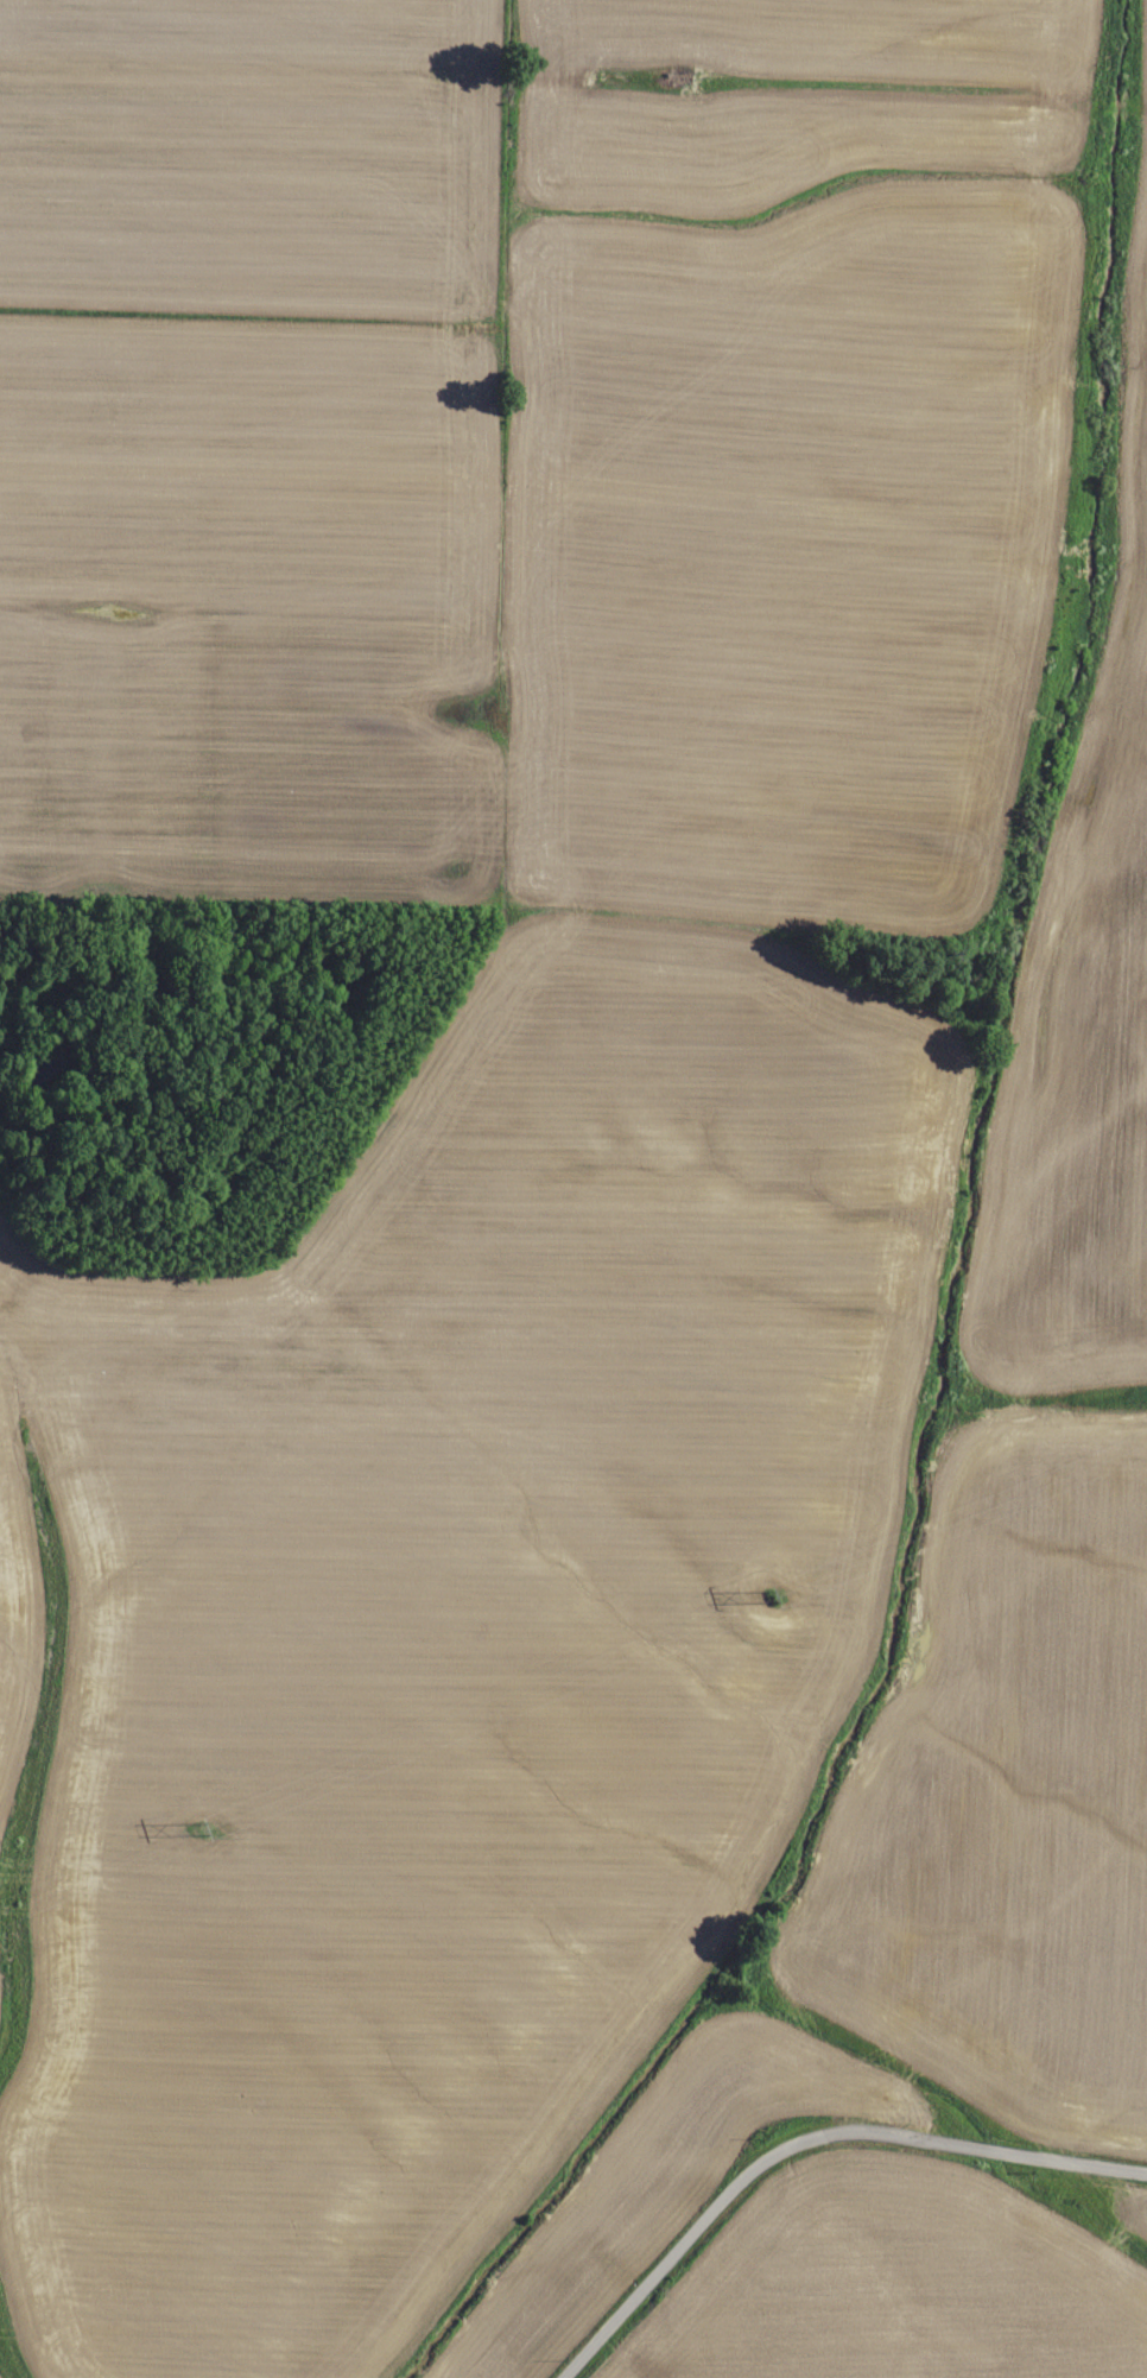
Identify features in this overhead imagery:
road: (807, 2140)

